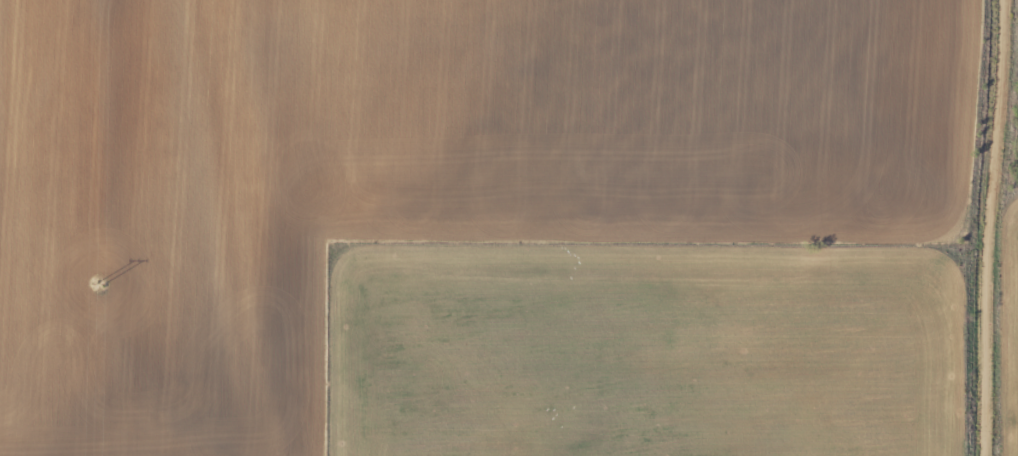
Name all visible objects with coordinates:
road: (980, 228)
power tower: (98, 285)

